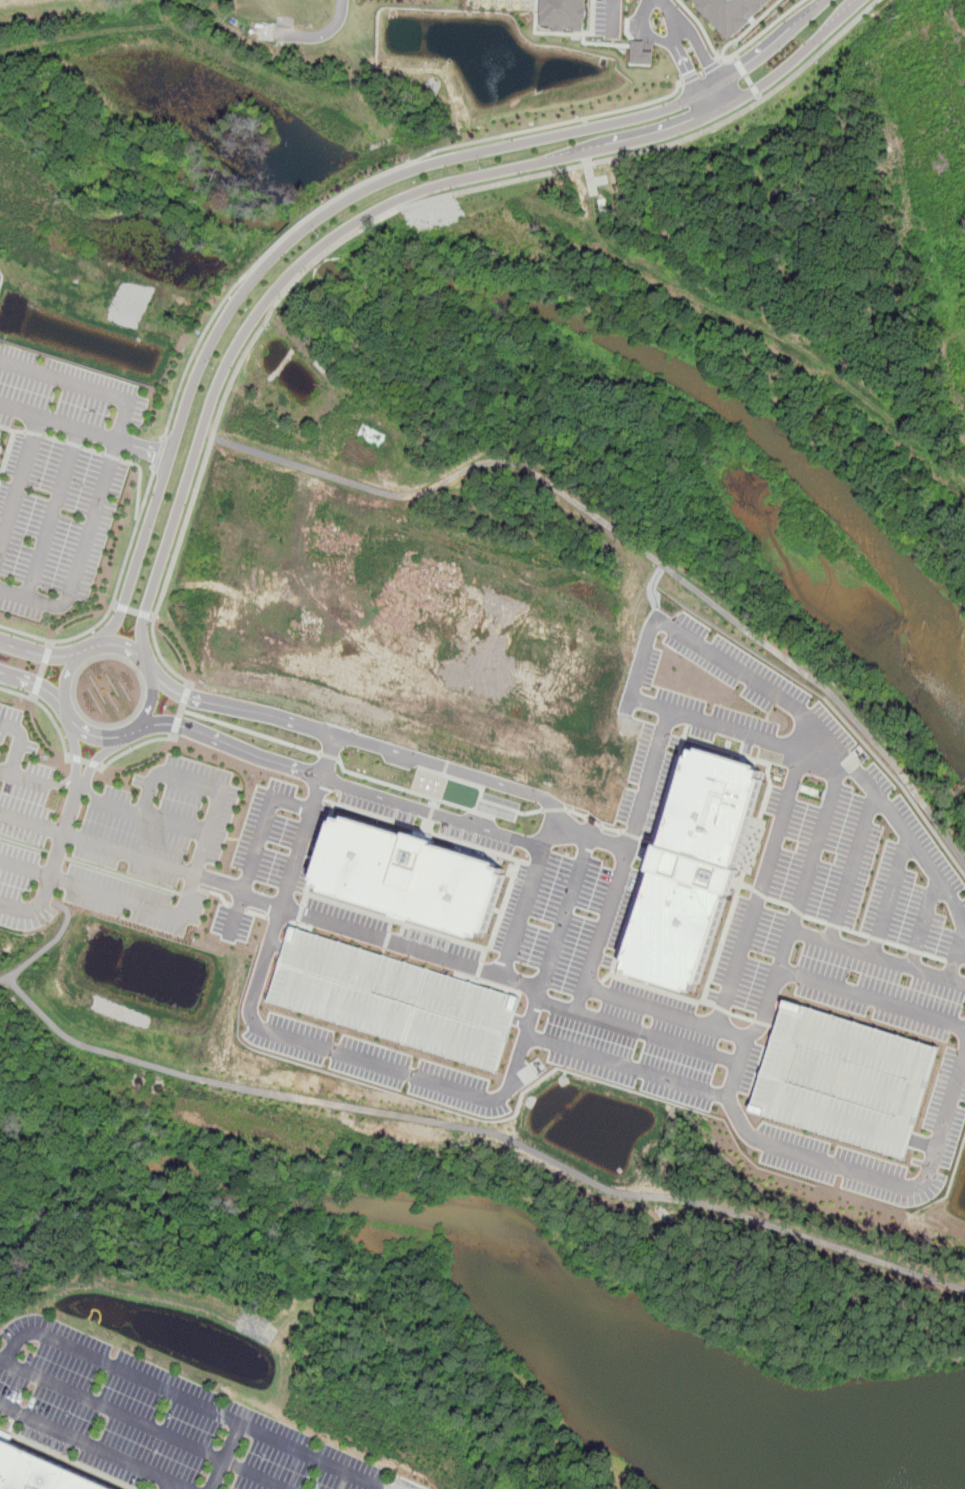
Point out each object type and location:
building: (735, 13)
building: (565, 15)
road: (608, 15)
road: (669, 15)
road: (748, 29)
road: (643, 33)
road: (323, 34)
road: (777, 46)
road: (703, 53)
building: (640, 54)
road: (736, 54)
road: (683, 63)
road: (740, 66)
building: (650, 67)
road: (702, 72)
road: (749, 81)
road: (710, 90)
road: (757, 92)
road: (726, 94)
road: (703, 106)
road: (366, 182)
road: (381, 209)
road: (380, 219)
road: (283, 248)
parking lot: (67, 398)
road: (122, 415)
building: (0, 441)
building: (1, 449)
road: (142, 449)
road: (159, 453)
road: (21, 482)
road: (140, 483)
road: (52, 514)
parking lot: (54, 524)
road: (635, 542)
road: (81, 554)
road: (113, 598)
road: (114, 604)
road: (122, 606)
road: (134, 611)
road: (145, 615)
road: (153, 617)
road: (123, 648)
road: (94, 649)
road: (47, 652)
road: (45, 654)
road: (42, 670)
road: (67, 673)
road: (36, 684)
road: (37, 688)
road: (185, 695)
road: (180, 710)
road: (48, 711)
parking lot: (714, 714)
road: (176, 726)
road: (737, 729)
road: (130, 731)
road: (250, 731)
road: (19, 742)
road: (232, 746)
road: (136, 747)
road: (832, 748)
road: (77, 750)
road: (329, 755)
road: (329, 756)
road: (98, 759)
road: (86, 761)
road: (24, 778)
road: (480, 778)
road: (66, 783)
road: (90, 791)
road: (410, 791)
road: (120, 806)
parking lot: (449, 821)
parking lot: (163, 822)
parking lot: (21, 824)
road: (262, 826)
road: (65, 829)
road: (426, 831)
road: (210, 835)
parking lot: (280, 836)
road: (910, 838)
road: (591, 840)
road: (303, 841)
road: (25, 844)
road: (98, 845)
road: (319, 854)
road: (58, 855)
road: (26, 865)
road: (852, 868)
building: (694, 869)
road: (124, 876)
building: (411, 876)
road: (191, 890)
road: (219, 893)
road: (890, 897)
road: (49, 899)
parking lot: (136, 900)
road: (36, 905)
parking lot: (849, 907)
road: (240, 908)
road: (524, 908)
road: (609, 909)
road: (301, 913)
road: (259, 914)
road: (236, 915)
road: (563, 919)
road: (280, 920)
parking lot: (234, 923)
road: (926, 923)
road: (303, 924)
road: (443, 935)
parking lot: (393, 936)
road: (280, 944)
road: (48, 945)
road: (485, 954)
road: (877, 958)
road: (952, 959)
road: (470, 966)
road: (479, 969)
parking lot: (614, 989)
building: (395, 998)
parking lot: (395, 998)
road: (872, 998)
road: (578, 999)
road: (773, 1016)
road: (521, 1020)
road: (733, 1034)
road: (367, 1062)
parking lot: (379, 1065)
road: (626, 1065)
building: (845, 1078)
parking garage: (845, 1078)
road: (727, 1099)
parking lot: (942, 1126)
road: (481, 1130)
road: (923, 1143)
road: (190, 1401)
building: (0, 1421)
parking lot: (158, 1421)
road: (144, 1422)
road: (94, 1445)
road: (224, 1456)
building: (37, 1471)
road: (167, 1484)
road: (387, 1488)

